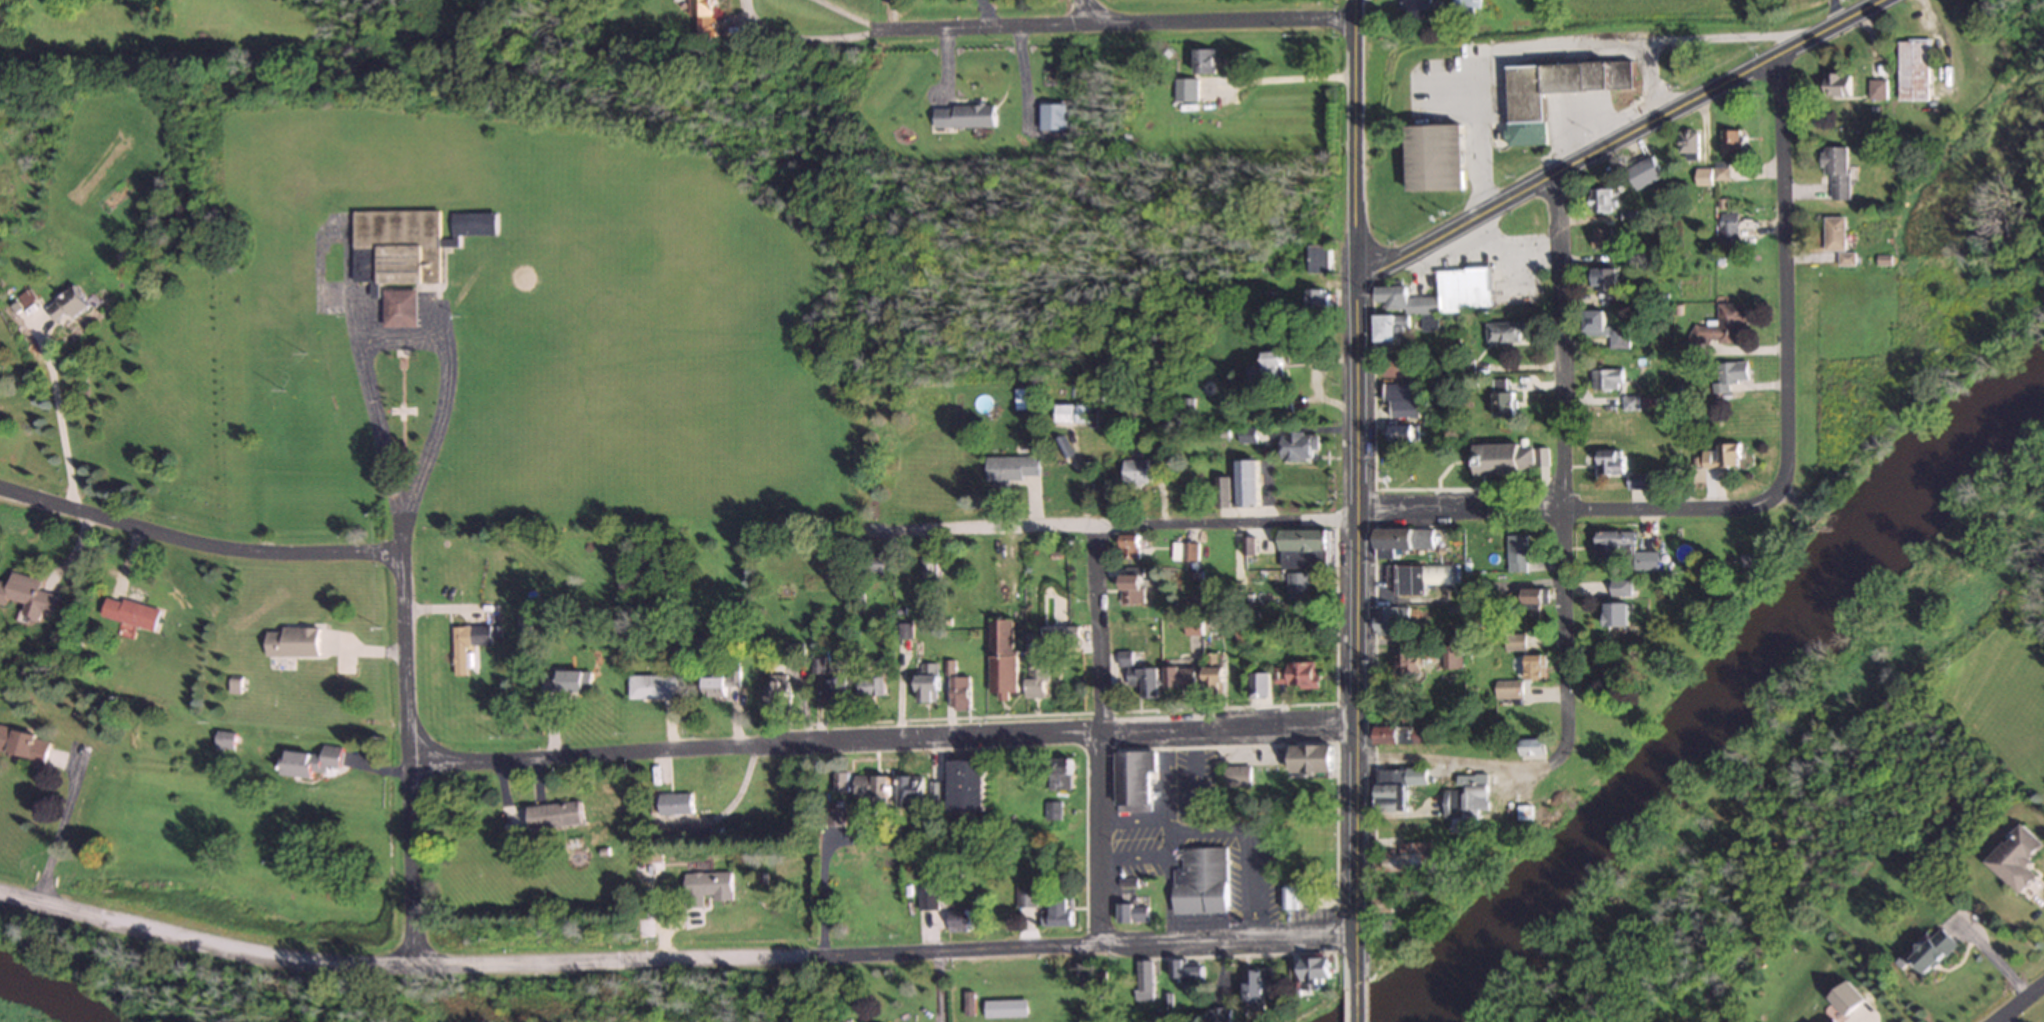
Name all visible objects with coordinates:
building: (1465, 7)
building: (1419, 10)
road: (1079, 11)
building: (702, 16)
road: (1113, 22)
road: (828, 35)
road: (1577, 50)
building: (1203, 61)
building: (1912, 70)
road: (1653, 80)
building: (1836, 85)
building: (1182, 89)
building: (1875, 90)
building: (1554, 91)
building: (962, 116)
building: (1051, 116)
road: (1631, 135)
building: (1731, 141)
building: (1689, 142)
building: (1435, 158)
building: (1720, 171)
building: (1836, 171)
building: (1701, 176)
building: (1600, 201)
building: (1726, 229)
building: (1601, 239)
building: (1837, 241)
building: (405, 255)
building: (1317, 258)
road: (1779, 280)
building: (1606, 283)
building: (1319, 300)
building: (1432, 301)
building: (66, 307)
building: (1720, 327)
building: (1604, 330)
road: (402, 333)
building: (1503, 333)
building: (1264, 367)
building: (1398, 368)
building: (1728, 375)
building: (1605, 380)
building: (1401, 399)
building: (1502, 399)
building: (1627, 403)
building: (1278, 404)
road: (62, 413)
building: (1079, 413)
building: (1397, 434)
building: (1246, 435)
building: (1298, 447)
building: (1721, 456)
building: (1510, 459)
building: (1609, 462)
building: (1142, 466)
road: (1570, 468)
building: (1010, 469)
building: (1635, 480)
building: (1246, 481)
building: (1223, 491)
road: (1365, 492)
road: (1568, 505)
road: (1109, 523)
building: (1399, 539)
road: (195, 542)
building: (1247, 544)
building: (1127, 545)
building: (1303, 547)
building: (1626, 550)
building: (1518, 551)
building: (1183, 552)
building: (870, 562)
building: (1415, 577)
building: (1295, 584)
building: (1129, 587)
building: (1620, 588)
building: (26, 595)
building: (130, 611)
building: (1615, 613)
building: (1389, 621)
building: (1191, 626)
building: (1072, 631)
building: (291, 641)
building: (1513, 641)
building: (466, 642)
building: (695, 649)
building: (1001, 656)
building: (1449, 656)
building: (1407, 662)
building: (1532, 664)
building: (1294, 673)
building: (1138, 674)
building: (1211, 674)
building: (1177, 675)
building: (1035, 676)
building: (565, 680)
building: (926, 681)
building: (719, 683)
building: (1258, 683)
building: (652, 686)
building: (872, 687)
building: (1508, 689)
building: (837, 690)
building: (958, 691)
building: (779, 693)
river: (1714, 711)
road: (1094, 734)
building: (1403, 734)
road: (403, 737)
road: (880, 738)
building: (23, 744)
building: (1533, 745)
building: (1311, 757)
building: (307, 761)
road: (1458, 762)
building: (1057, 773)
building: (1235, 774)
building: (1132, 780)
building: (839, 781)
building: (965, 785)
building: (868, 786)
building: (1396, 787)
building: (909, 788)
building: (933, 793)
building: (1465, 801)
building: (675, 803)
building: (1050, 810)
building: (1523, 811)
building: (554, 814)
building: (832, 816)
road: (61, 831)
building: (1407, 858)
building: (2017, 858)
building: (1201, 881)
building: (705, 887)
road: (817, 892)
building: (1024, 897)
building: (1287, 897)
building: (926, 898)
building: (1386, 904)
building: (1056, 911)
building: (1131, 911)
building: (1024, 920)
building: (963, 921)
road: (1225, 942)
building: (1934, 950)
road: (542, 959)
building: (1315, 969)
building: (1186, 972)
building: (1143, 979)
building: (1254, 990)
road: (2016, 1000)
building: (967, 1003)
road: (1357, 1003)
building: (1004, 1008)
building: (1218, 1014)
building: (1832, 1020)

